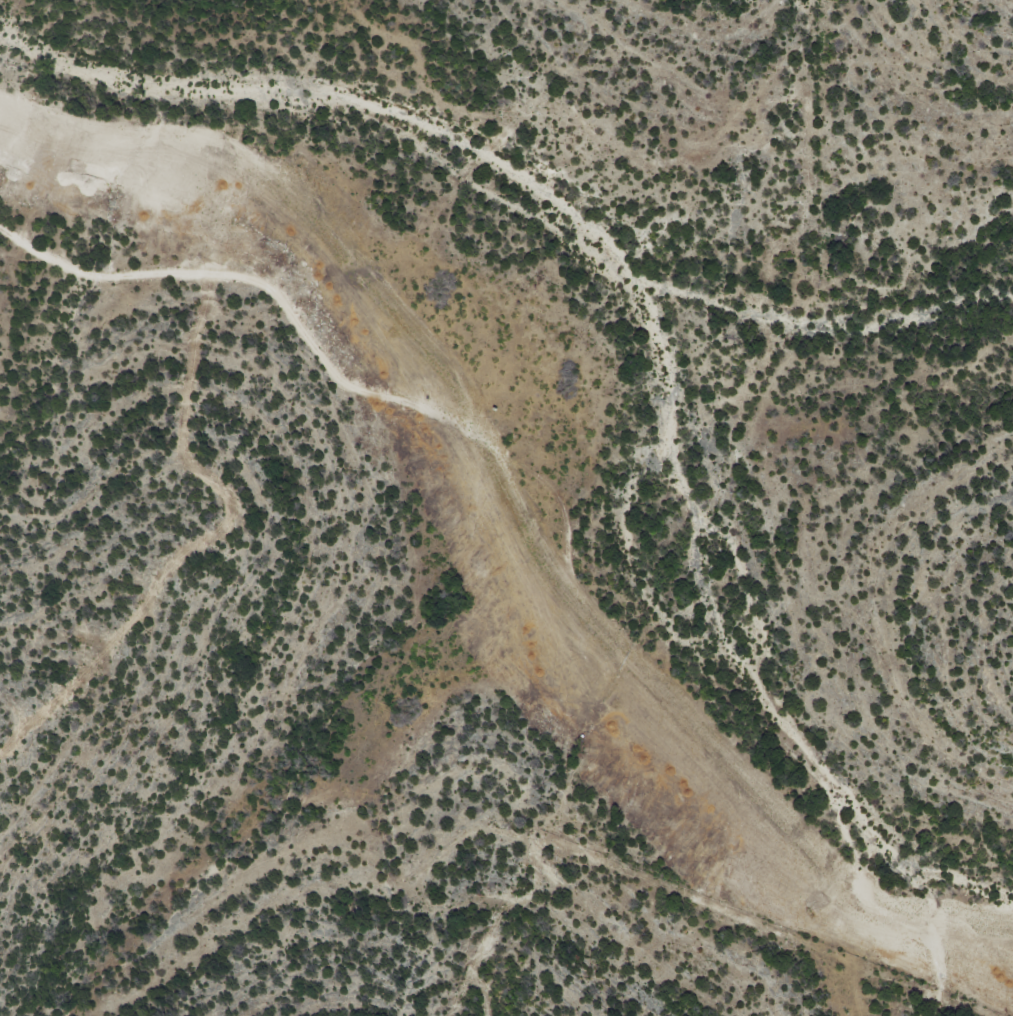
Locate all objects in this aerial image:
road: (550, 535)

